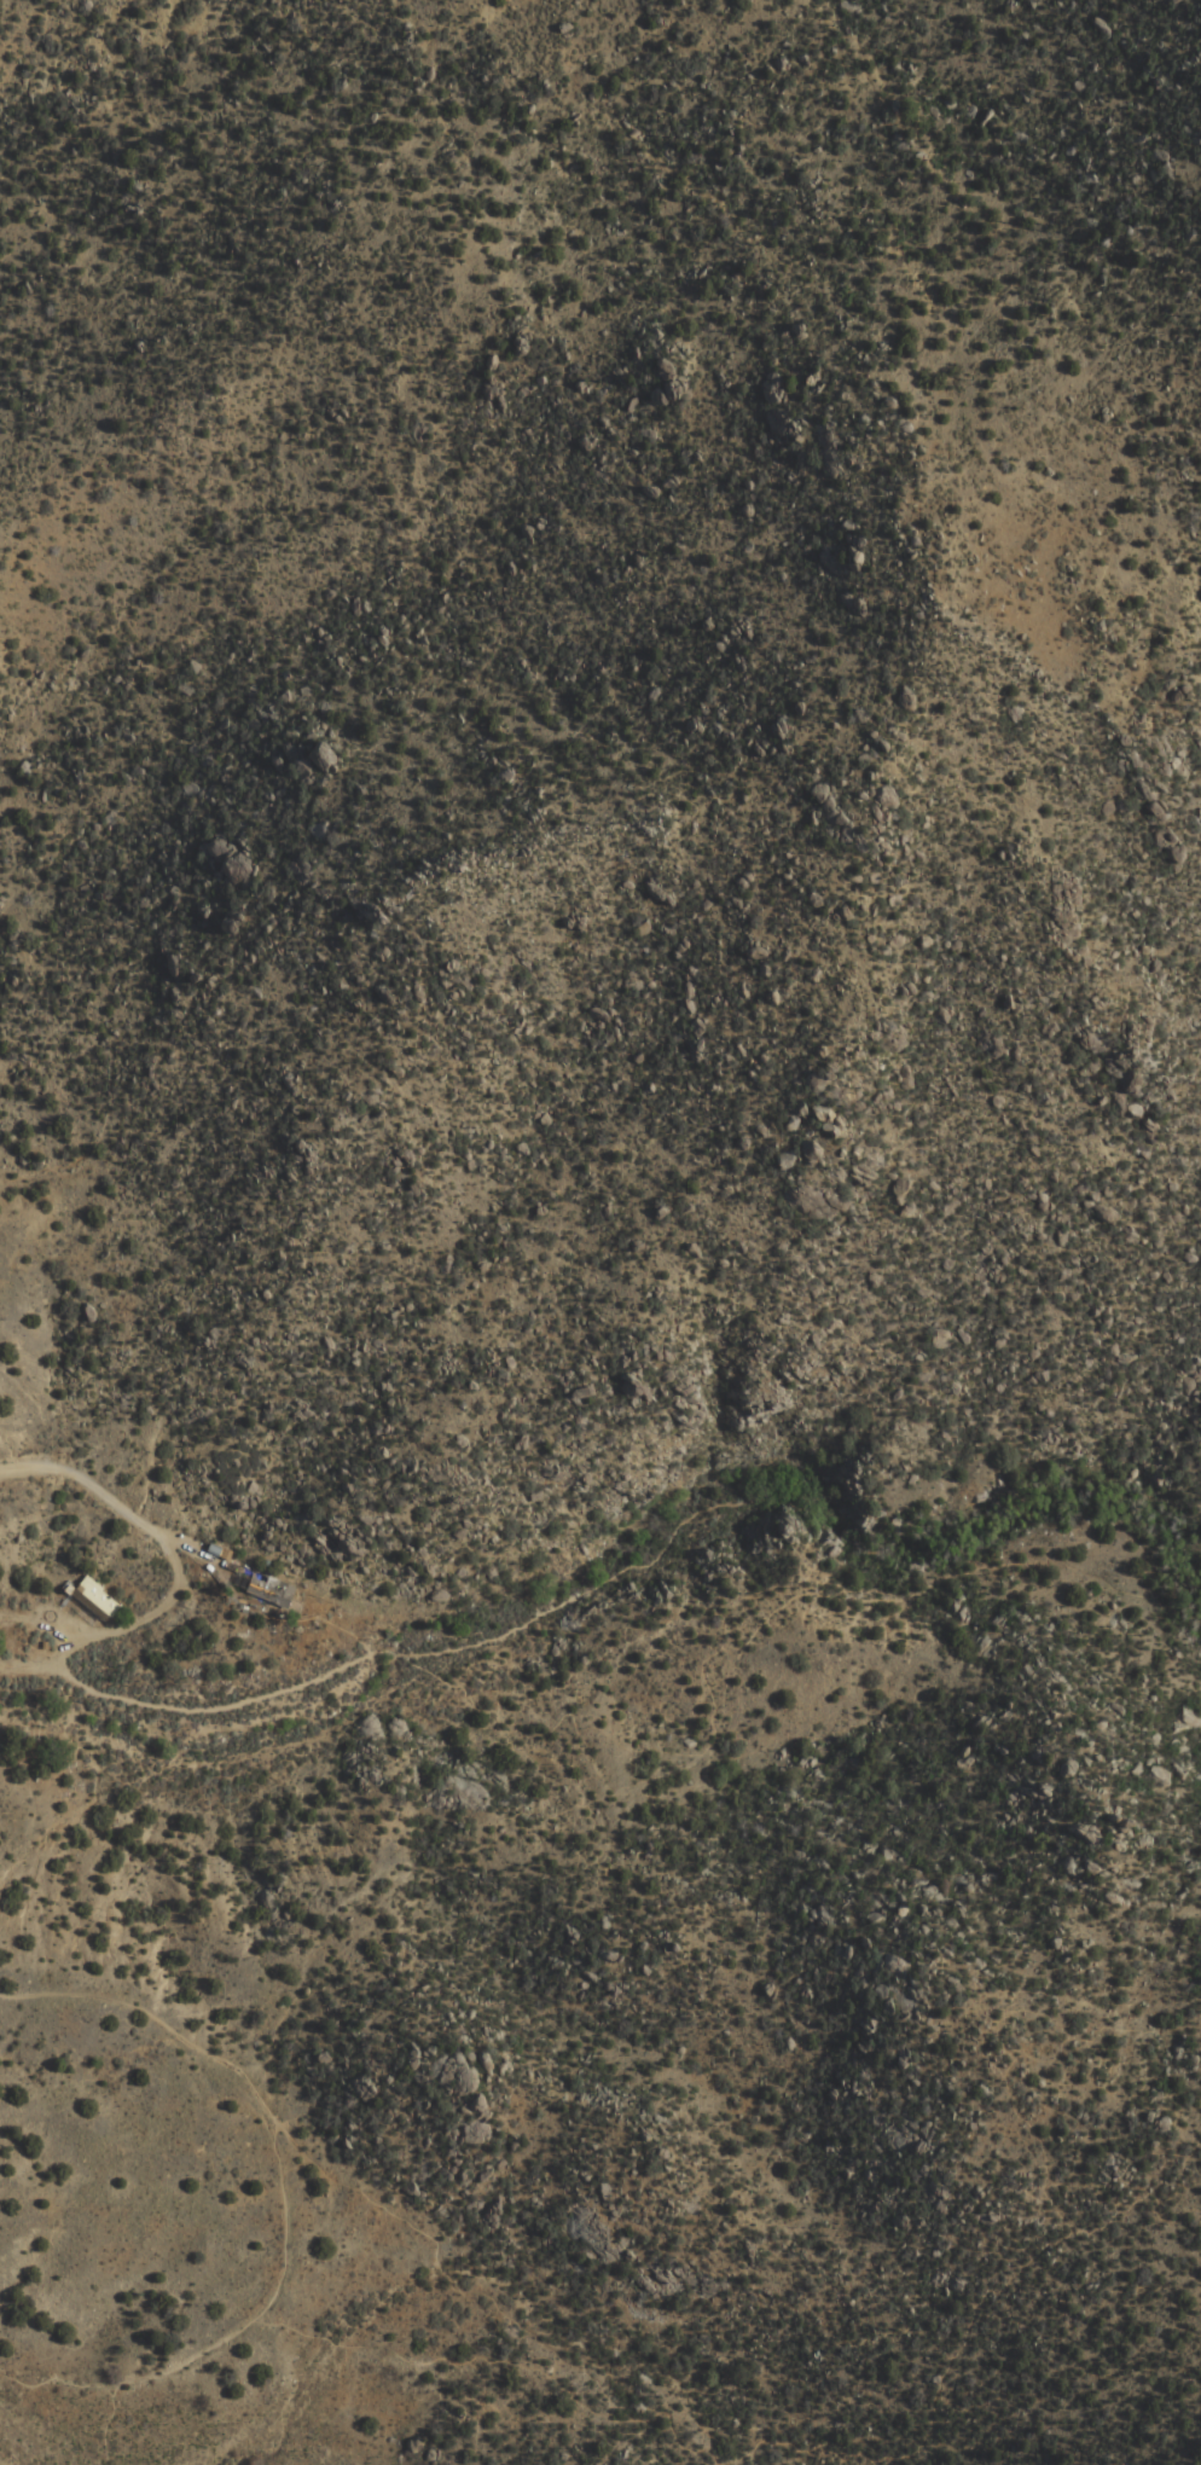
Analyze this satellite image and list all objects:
building: (269, 1579)
building: (100, 1587)
building: (95, 1599)
road: (192, 1707)
road: (285, 2180)
road: (407, 2355)
road: (65, 2379)
road: (729, 2454)

